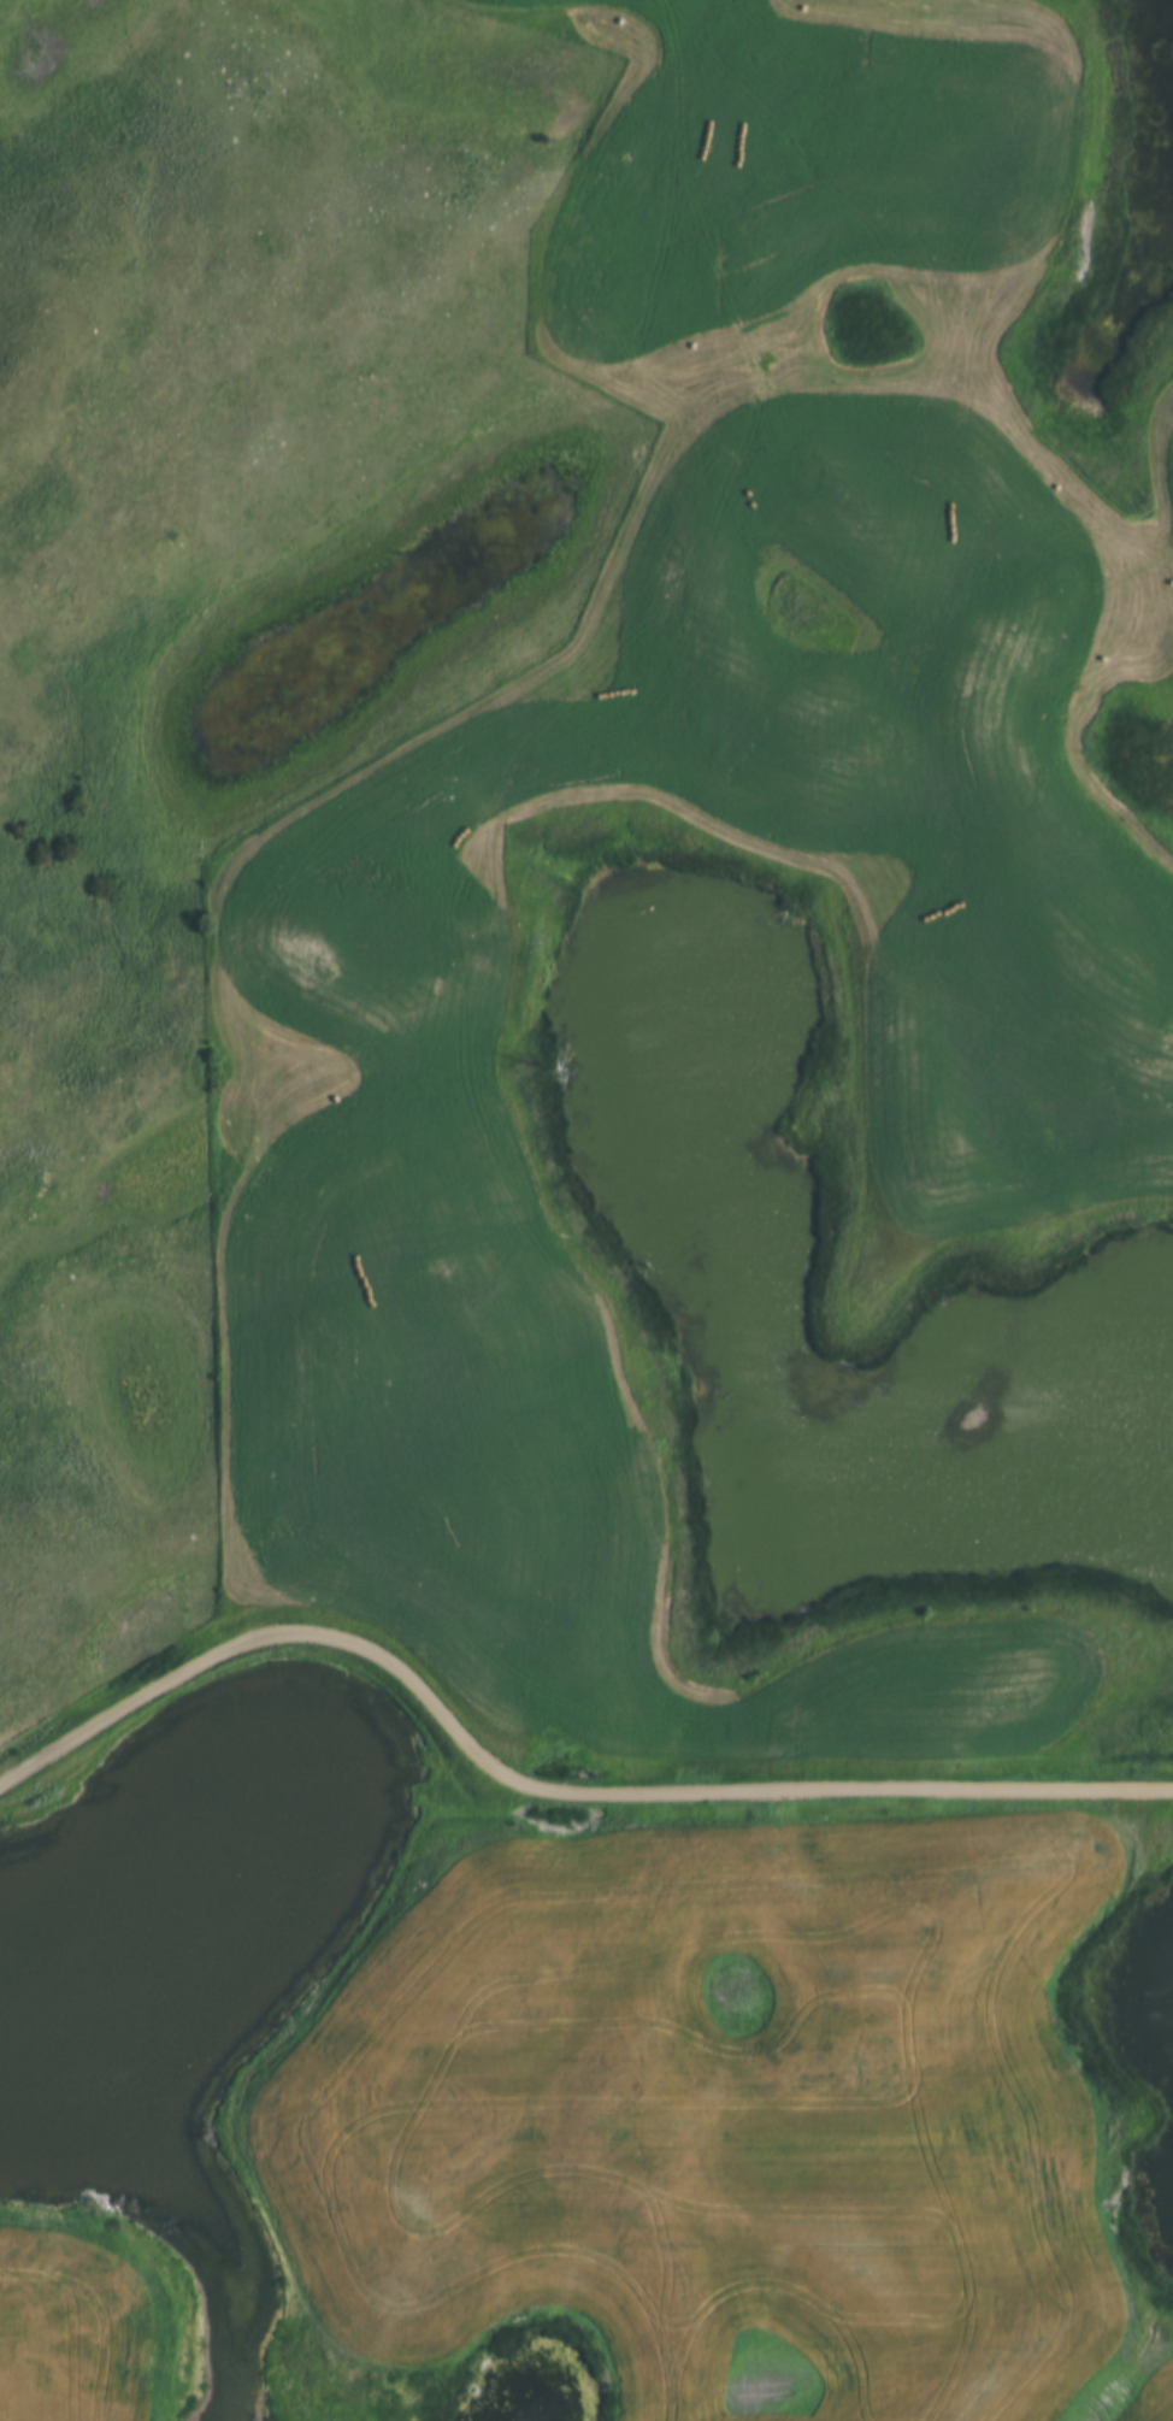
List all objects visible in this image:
road: (538, 1785)

